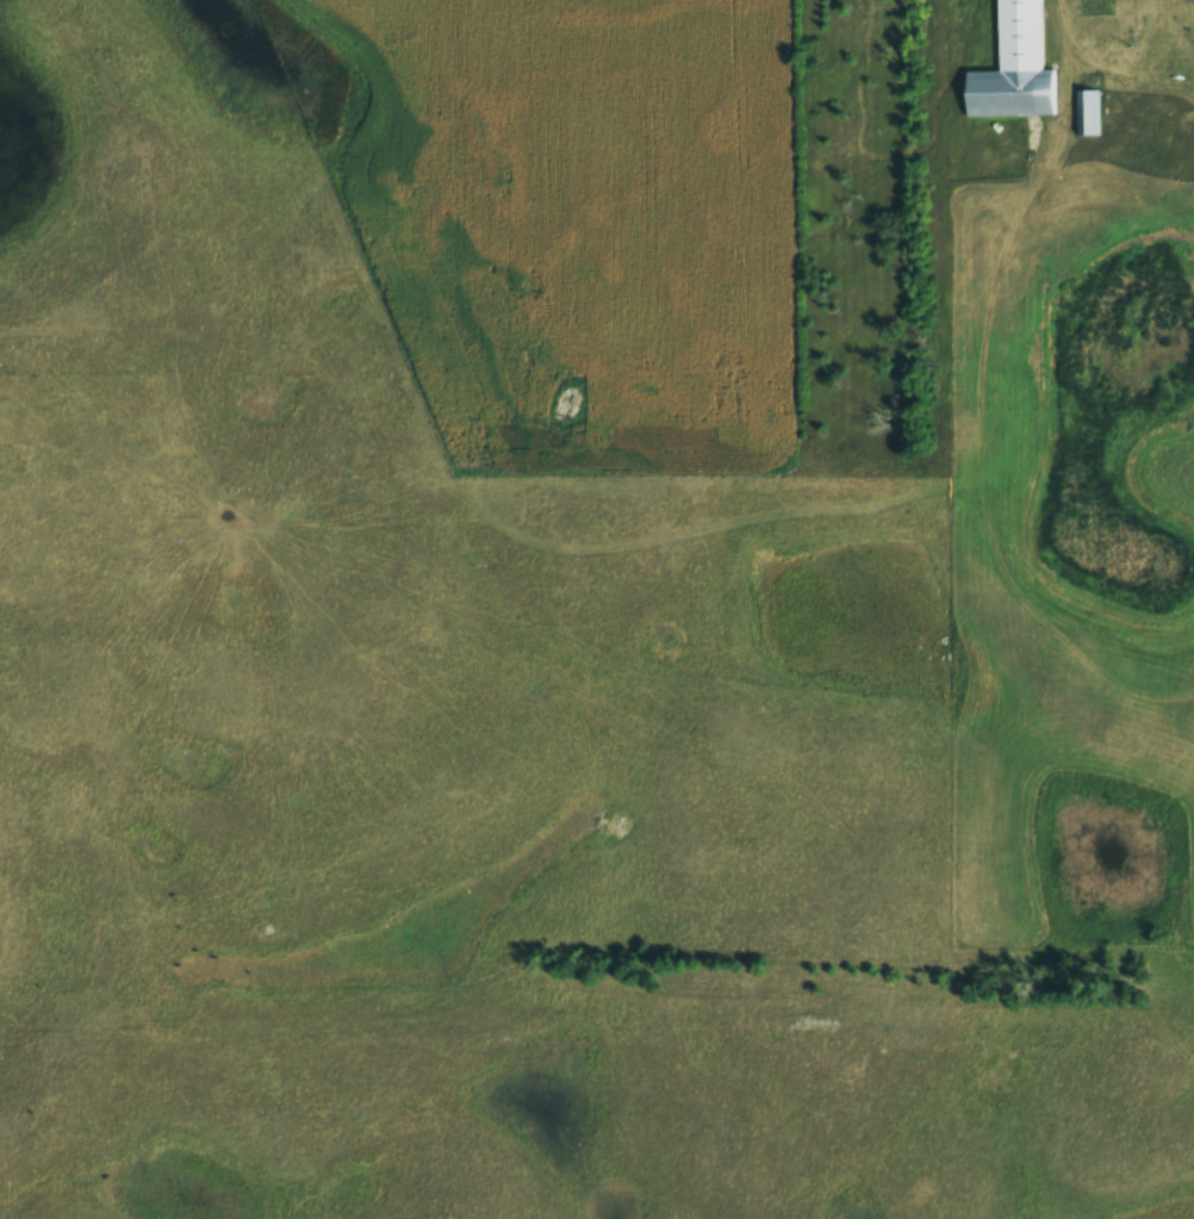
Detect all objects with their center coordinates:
building: (1015, 67)
building: (1089, 112)

